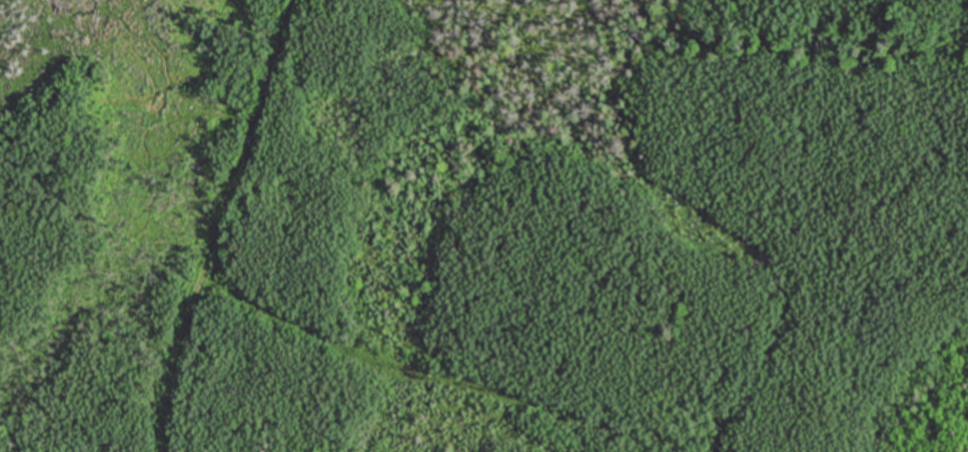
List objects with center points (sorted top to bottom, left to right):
road: (212, 223)

